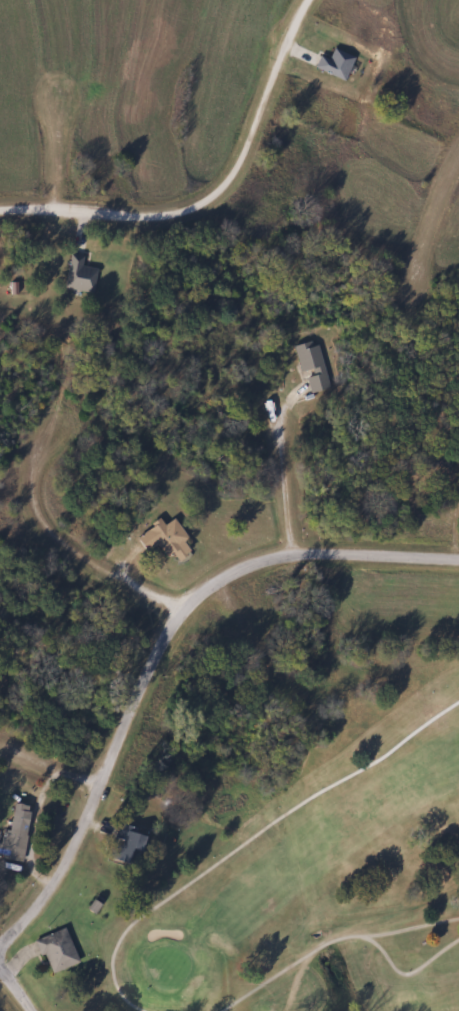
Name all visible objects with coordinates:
building: (334, 64)
road: (59, 141)
road: (211, 192)
road: (436, 198)
road: (415, 263)
building: (78, 275)
building: (311, 366)
road: (285, 484)
building: (163, 538)
road: (153, 589)
road: (244, 651)
road: (160, 652)
road: (43, 809)
building: (14, 833)
building: (126, 845)
building: (55, 950)
road: (18, 986)

